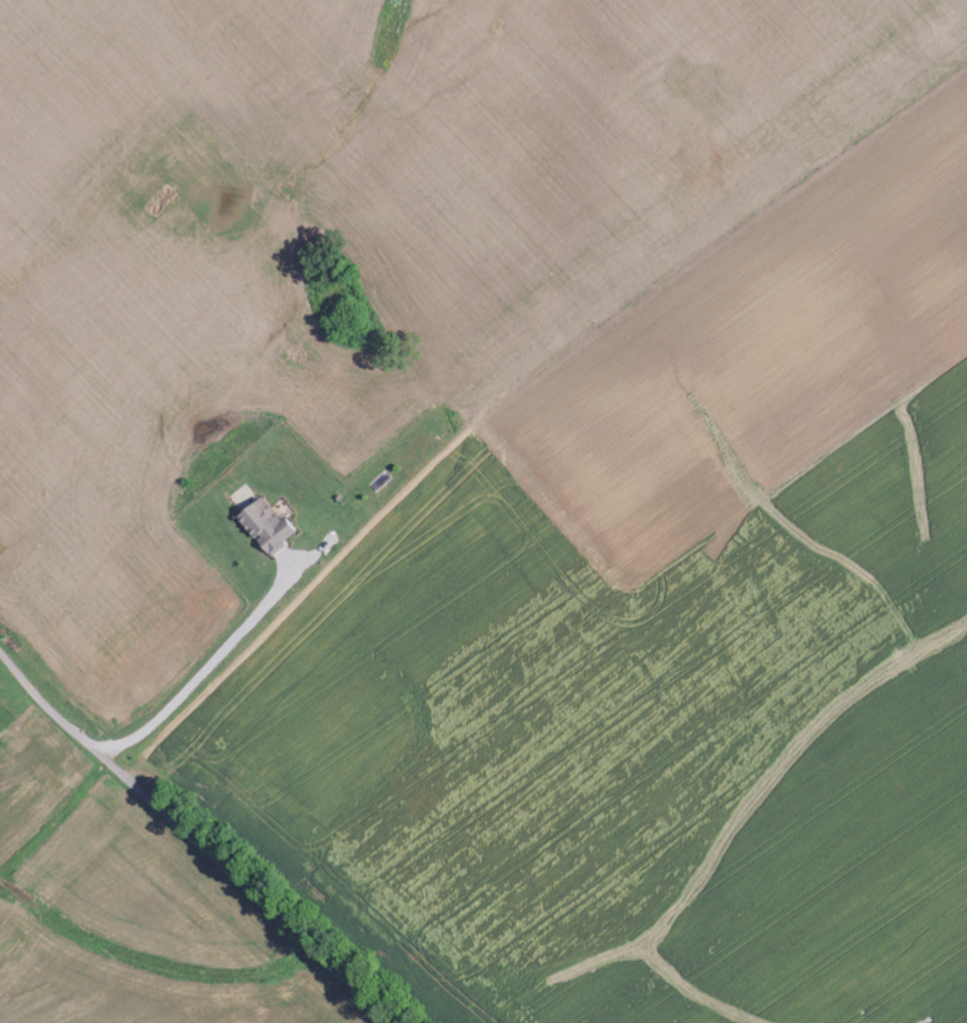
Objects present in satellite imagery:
building: (274, 525)
road: (192, 841)

